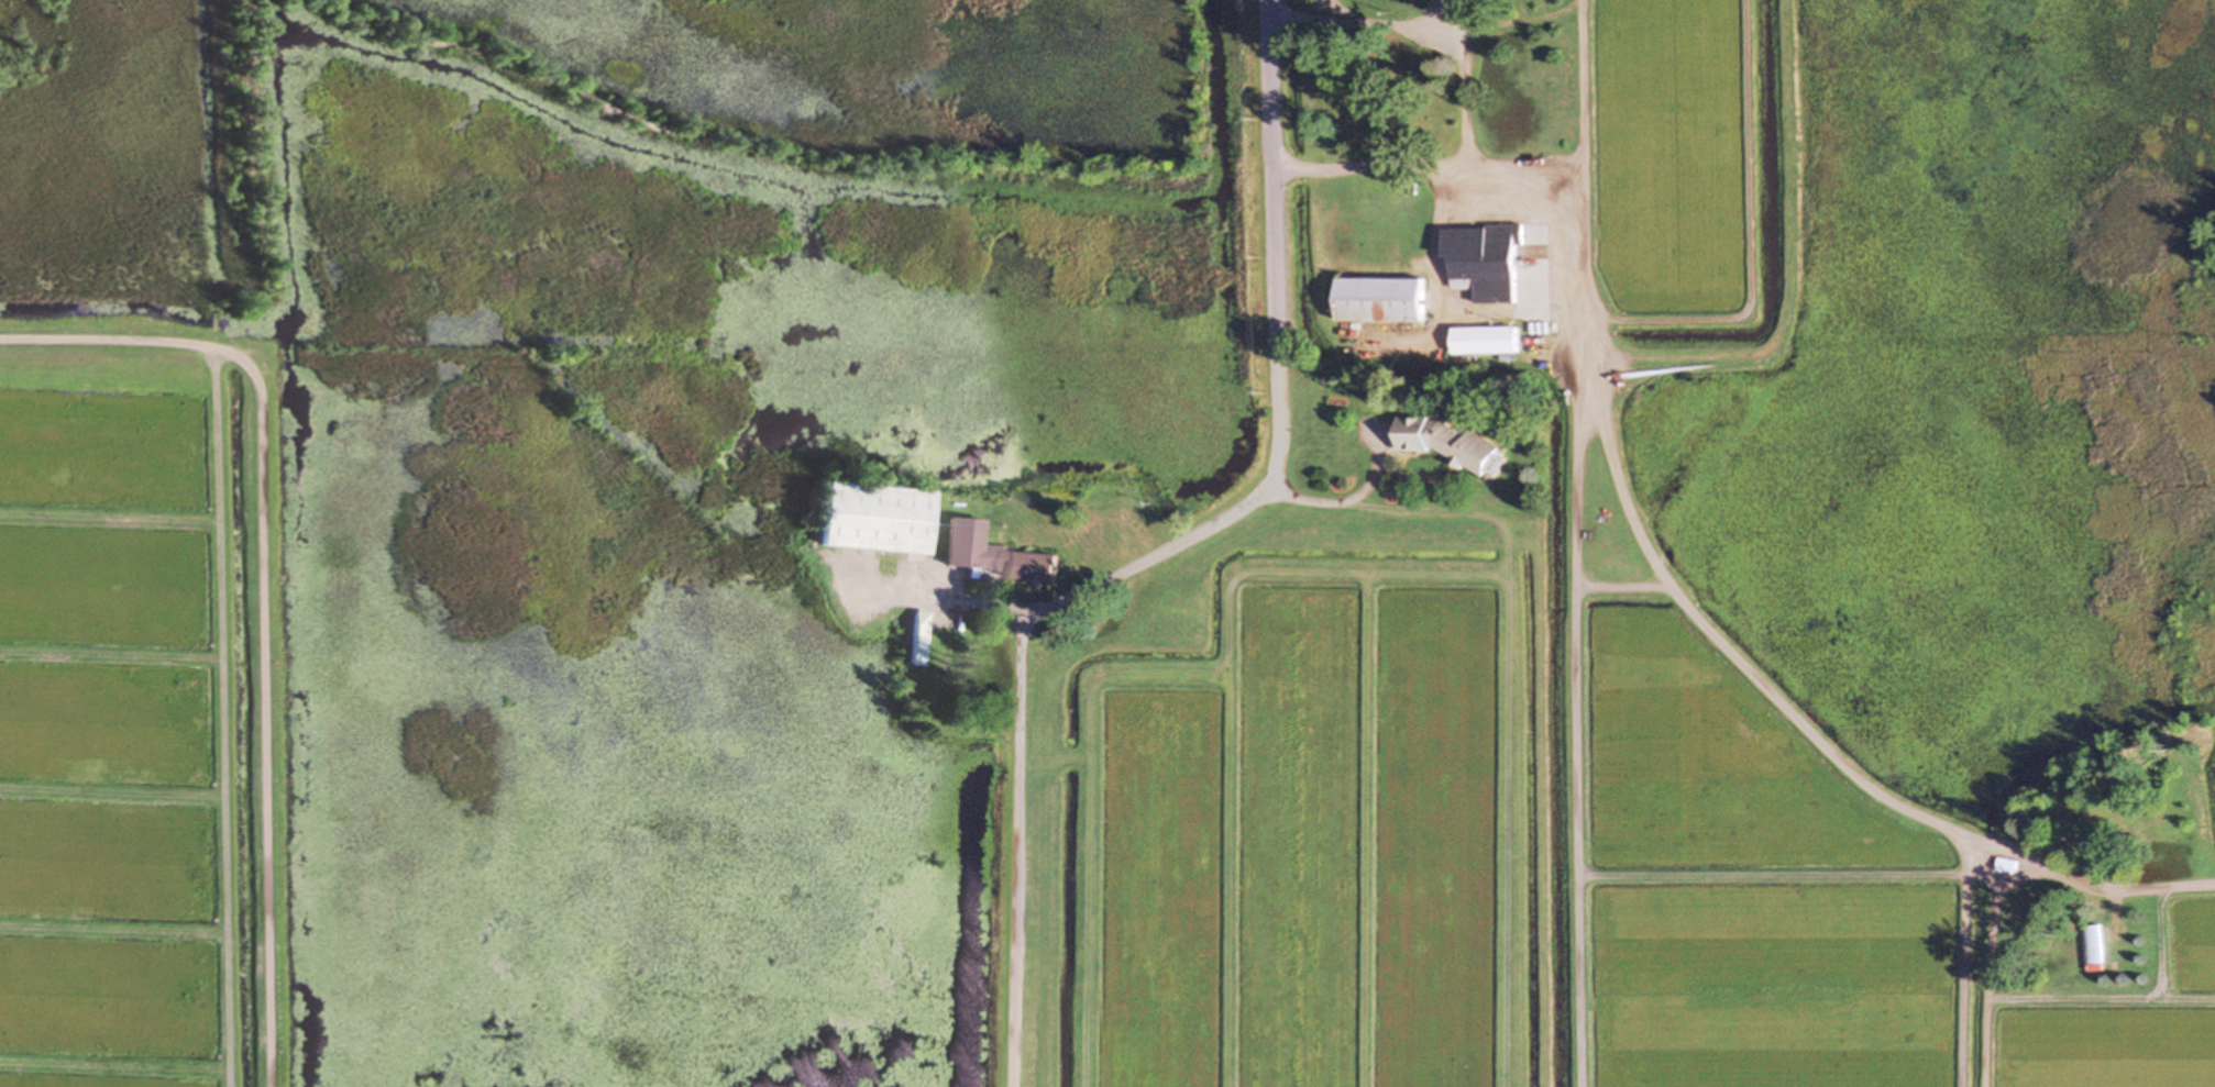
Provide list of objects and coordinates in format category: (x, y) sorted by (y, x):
crop: (1673, 158)
road: (1278, 179)
building: (1485, 259)
building: (1380, 300)
building: (1485, 340)
building: (1450, 442)
building: (871, 517)
building: (995, 554)
road: (1144, 561)
building: (917, 637)
crop: (140, 705)
building: (2096, 831)
crop: (1512, 843)
building: (2007, 866)
building: (2093, 944)

